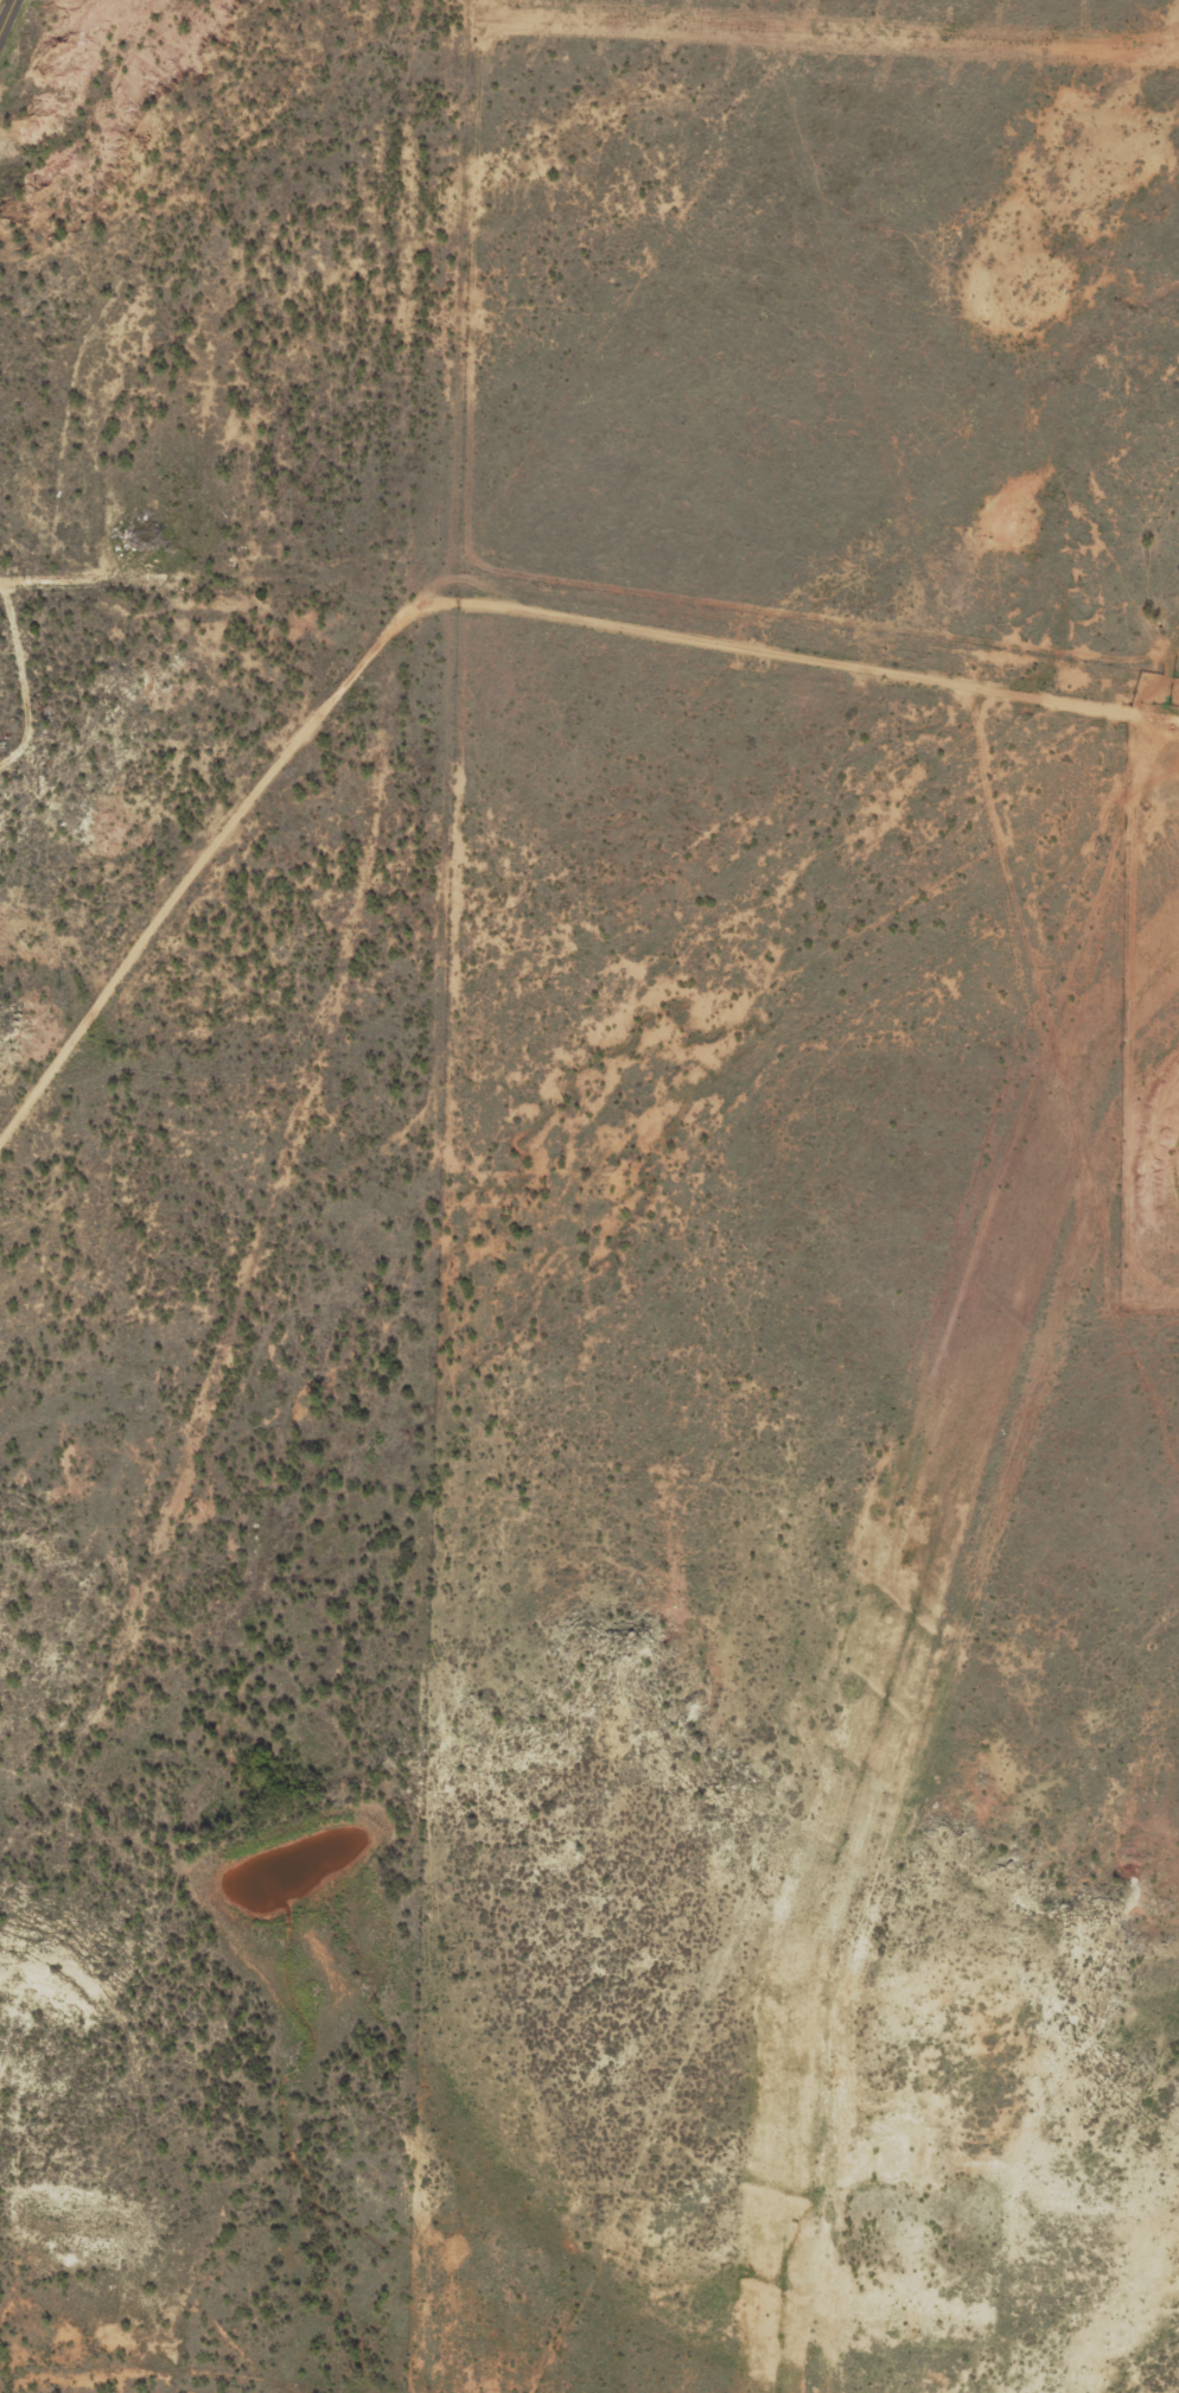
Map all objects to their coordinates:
road: (2, 7)
road: (505, 664)
road: (237, 1128)
road: (1135, 2347)

